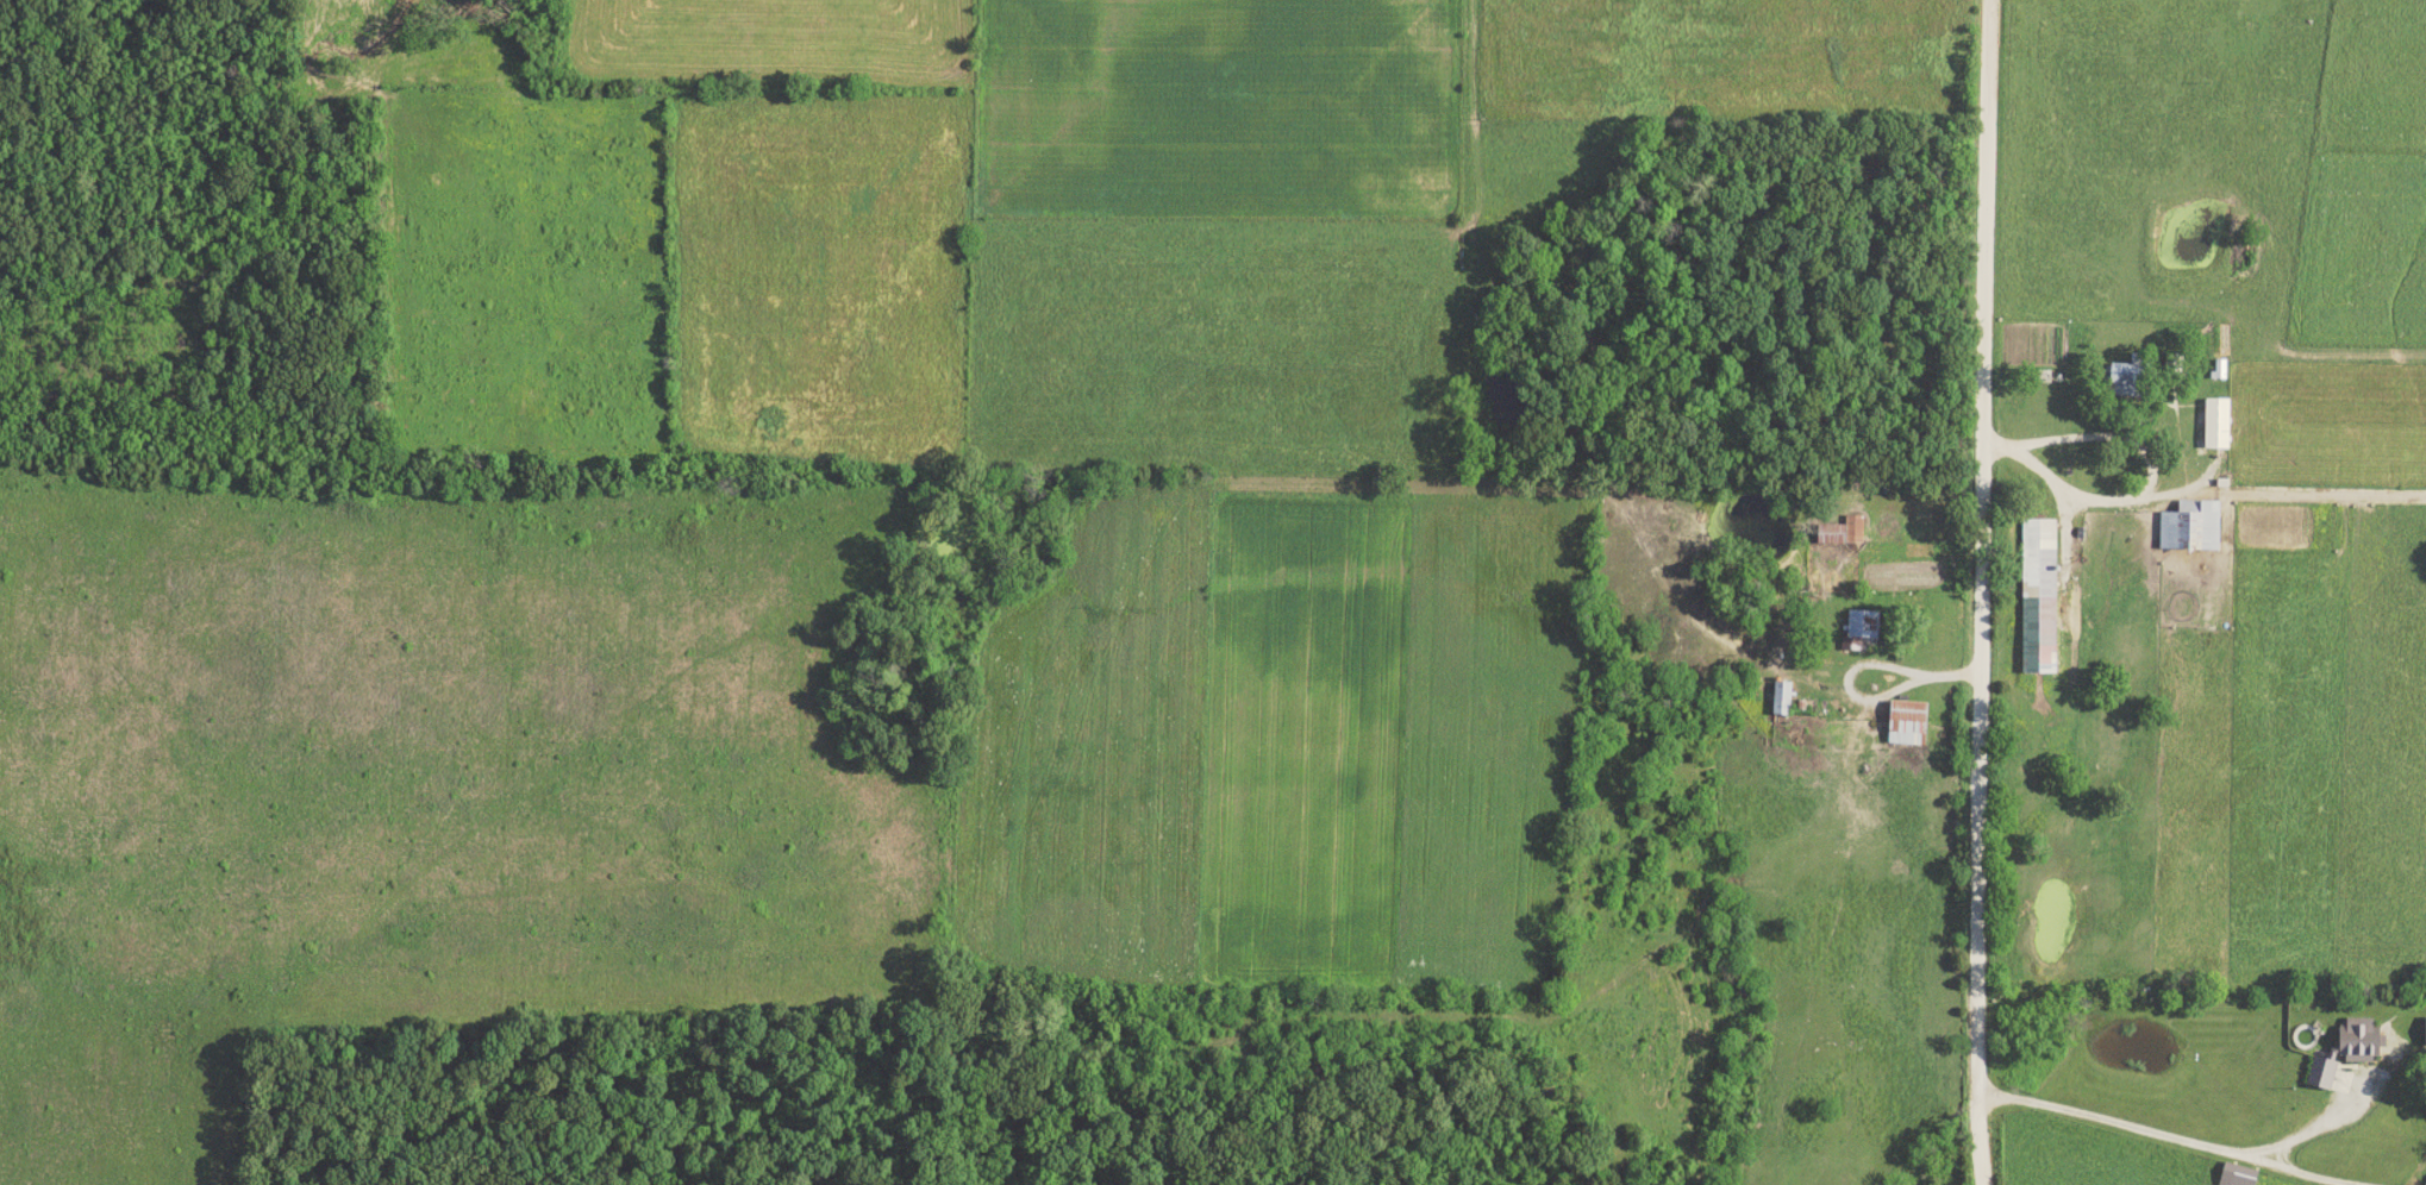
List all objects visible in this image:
building: (2219, 370)
building: (2117, 380)
building: (2214, 424)
road: (2139, 464)
road: (2278, 495)
building: (2188, 527)
building: (1838, 533)
road: (1975, 592)
building: (2036, 595)
building: (1852, 629)
road: (1859, 664)
road: (1944, 677)
building: (1780, 698)
building: (1905, 723)
building: (2422, 1033)
building: (2355, 1040)
building: (2319, 1074)
road: (2150, 1137)

